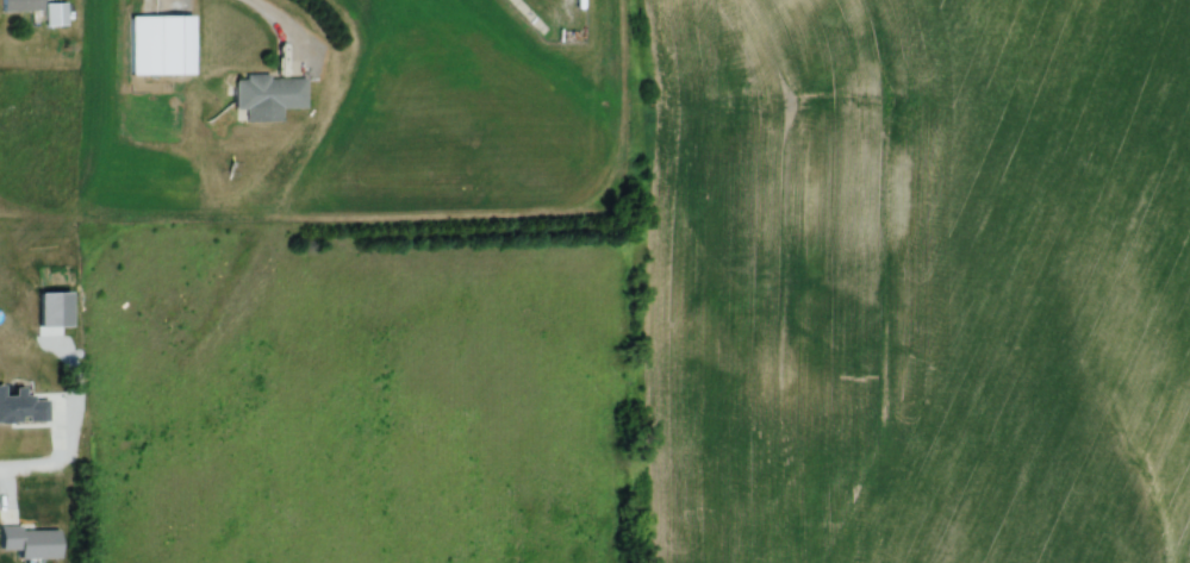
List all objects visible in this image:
building: (20, 5)
building: (161, 44)
building: (269, 92)
road: (29, 464)

